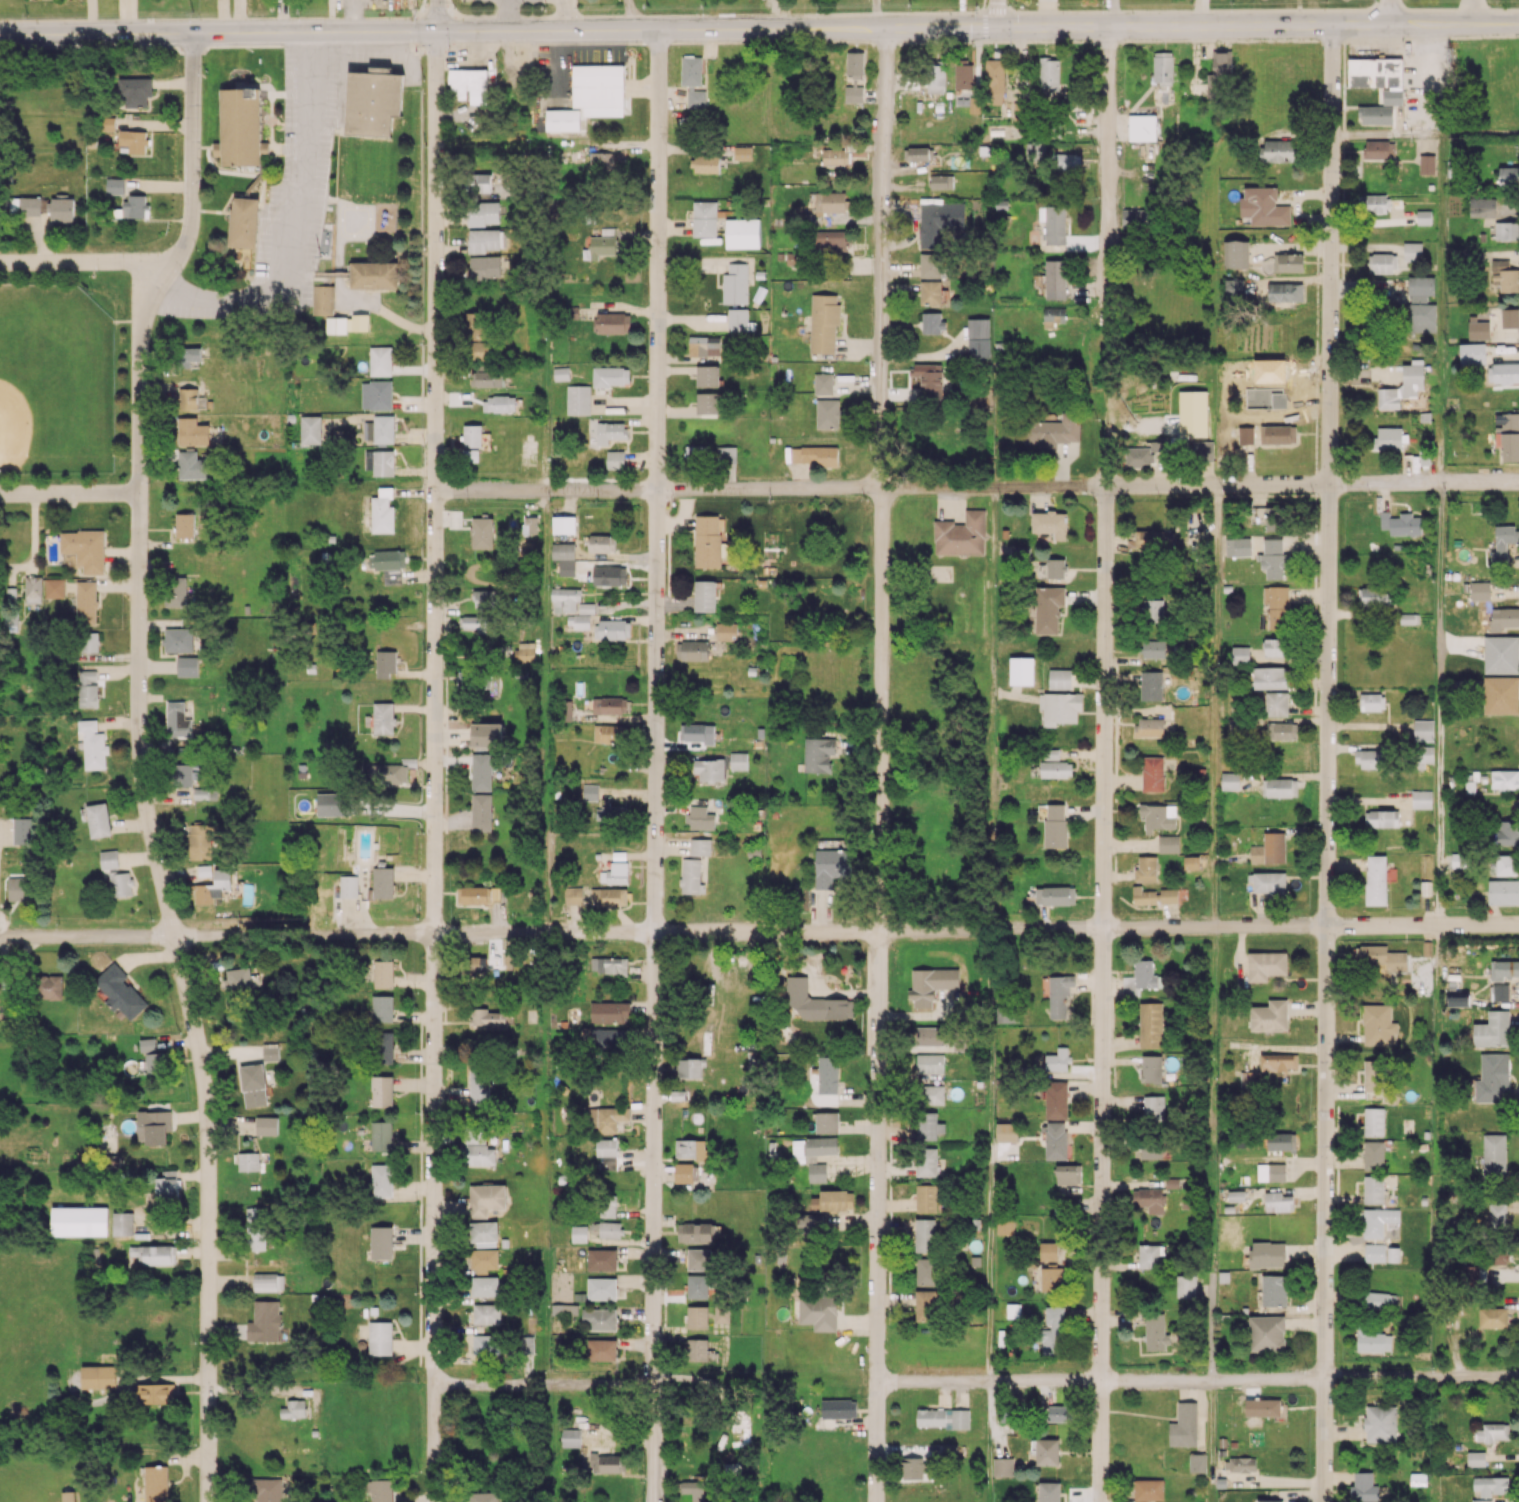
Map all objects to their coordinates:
road: (1389, 11)
road: (996, 13)
road: (876, 14)
road: (437, 15)
traffic signals: (996, 27)
road: (759, 28)
traffic signals: (437, 31)
building: (1163, 66)
building: (691, 70)
building: (1219, 71)
building: (1049, 73)
building: (966, 76)
building: (1377, 76)
building: (854, 77)
building: (936, 78)
road: (1430, 79)
building: (994, 81)
building: (468, 85)
building: (135, 91)
building: (590, 96)
building: (696, 99)
building: (373, 101)
building: (1375, 114)
building: (106, 123)
building: (240, 127)
building: (1142, 127)
road: (1480, 134)
road: (1381, 135)
road: (1436, 135)
building: (132, 141)
building: (1035, 149)
road: (1107, 149)
building: (1378, 149)
building: (1279, 150)
building: (742, 153)
building: (918, 153)
building: (835, 157)
building: (603, 160)
building: (1068, 161)
building: (706, 163)
building: (1426, 164)
building: (1509, 175)
building: (941, 181)
building: (479, 182)
building: (114, 186)
building: (831, 202)
building: (1372, 203)
building: (24, 205)
building: (135, 205)
building: (1490, 205)
building: (1263, 207)
building: (61, 208)
building: (483, 213)
building: (1423, 217)
building: (705, 218)
building: (1135, 218)
road: (297, 221)
building: (244, 222)
building: (939, 222)
building: (1053, 223)
building: (1506, 230)
building: (742, 233)
building: (487, 240)
building: (830, 241)
building: (600, 247)
building: (1412, 251)
building: (1235, 254)
road: (82, 262)
building: (1288, 262)
building: (1382, 263)
building: (930, 265)
building: (484, 267)
building: (374, 275)
building: (1505, 275)
building: (1055, 279)
building: (735, 284)
building: (1234, 287)
building: (930, 292)
building: (1284, 292)
building: (323, 300)
building: (1421, 305)
building: (1053, 316)
building: (1509, 317)
building: (737, 319)
building: (360, 322)
building: (613, 322)
building: (932, 322)
building: (823, 323)
building: (336, 325)
building: (474, 325)
building: (1478, 330)
building: (978, 337)
building: (703, 345)
building: (480, 350)
building: (1472, 353)
building: (189, 355)
building: (380, 360)
building: (561, 373)
building: (1504, 373)
building: (707, 375)
building: (1412, 375)
building: (488, 376)
building: (610, 376)
building: (929, 379)
park: (57, 380)
building: (823, 383)
road: (544, 387)
building: (376, 395)
building: (188, 398)
building: (577, 399)
building: (499, 403)
building: (708, 403)
building: (828, 413)
building: (1193, 413)
building: (310, 429)
building: (380, 429)
building: (1052, 431)
building: (192, 432)
building: (610, 432)
building: (1278, 434)
building: (1243, 435)
building: (472, 436)
building: (1508, 436)
building: (1388, 438)
building: (1201, 450)
building: (697, 453)
building: (726, 454)
building: (1142, 454)
building: (815, 455)
building: (615, 459)
building: (380, 462)
building: (192, 465)
road: (976, 486)
road: (69, 493)
building: (382, 511)
building: (1272, 518)
building: (1049, 523)
building: (563, 524)
building: (1401, 524)
building: (184, 525)
building: (529, 527)
road: (1440, 529)
building: (482, 533)
building: (961, 534)
building: (1147, 540)
building: (708, 541)
building: (1503, 542)
building: (602, 543)
building: (1238, 546)
building: (84, 549)
building: (1012, 550)
building: (564, 557)
building: (1273, 558)
building: (388, 564)
building: (1055, 568)
building: (609, 575)
building: (54, 588)
building: (33, 589)
building: (1480, 590)
building: (177, 591)
building: (11, 594)
building: (705, 596)
building: (486, 597)
building: (1375, 597)
building: (564, 599)
building: (85, 602)
building: (1277, 606)
building: (586, 608)
building: (1048, 609)
building: (1152, 610)
building: (1409, 618)
building: (1503, 618)
building: (578, 621)
building: (474, 622)
building: (612, 629)
building: (726, 631)
building: (178, 639)
building: (89, 642)
building: (1275, 647)
building: (1153, 649)
building: (692, 650)
building: (525, 652)
building: (1501, 654)
building: (1240, 655)
building: (386, 663)
building: (186, 666)
building: (1021, 670)
building: (1270, 677)
building: (1059, 679)
building: (1151, 685)
building: (88, 688)
building: (1501, 695)
building: (1371, 701)
building: (1276, 704)
building: (609, 705)
road: (1214, 705)
road: (656, 706)
road: (884, 706)
building: (1059, 707)
road: (992, 708)
road: (544, 711)
building: (383, 718)
building: (177, 720)
building: (1149, 727)
building: (1423, 730)
building: (1281, 731)
building: (608, 733)
building: (698, 733)
building: (487, 734)
building: (92, 745)
building: (1051, 753)
building: (818, 754)
building: (1425, 754)
building: (1369, 759)
building: (739, 761)
road: (1327, 762)
road: (140, 764)
road: (434, 766)
building: (1056, 769)
building: (710, 770)
building: (481, 772)
building: (1153, 773)
building: (388, 774)
building: (183, 775)
building: (1504, 779)
building: (1229, 781)
building: (1281, 787)
building: (590, 792)
building: (205, 793)
building: (1421, 799)
building: (332, 804)
building: (481, 812)
building: (609, 812)
building: (1157, 816)
building: (699, 818)
building: (1381, 818)
building: (98, 820)
building: (1055, 825)
building: (21, 830)
building: (1507, 833)
building: (200, 841)
building: (1168, 843)
building: (700, 846)
building: (1269, 849)
building: (108, 859)
building: (1191, 862)
building: (1507, 865)
building: (831, 866)
building: (1146, 869)
building: (205, 870)
building: (614, 873)
building: (691, 876)
building: (1375, 880)
building: (383, 882)
building: (1269, 882)
building: (120, 883)
building: (347, 886)
building: (213, 887)
building: (18, 889)
building: (1503, 892)
building: (474, 895)
building: (1055, 895)
building: (1169, 895)
building: (608, 896)
building: (1144, 896)
road: (976, 929)
road: (217, 935)
road: (1102, 954)
building: (1382, 957)
building: (477, 965)
building: (609, 965)
building: (1266, 965)
building: (1504, 969)
building: (383, 974)
building: (1139, 978)
building: (237, 979)
building: (931, 984)
building: (49, 987)
building: (120, 992)
building: (1501, 992)
building: (1060, 996)
building: (1457, 1000)
building: (815, 1002)
building: (381, 1008)
building: (609, 1012)
building: (1007, 1014)
building: (1269, 1016)
building: (486, 1019)
building: (1150, 1025)
building: (1378, 1025)
building: (1493, 1029)
building: (929, 1035)
building: (609, 1038)
building: (149, 1044)
building: (383, 1047)
building: (270, 1052)
building: (1057, 1060)
building: (1278, 1061)
building: (154, 1063)
building: (929, 1063)
building: (690, 1067)
building: (1151, 1069)
building: (827, 1075)
building: (1370, 1076)
building: (1492, 1078)
building: (479, 1083)
building: (253, 1085)
building: (381, 1091)
building: (932, 1094)
building: (1056, 1099)
building: (1153, 1107)
building: (605, 1118)
building: (1373, 1121)
building: (827, 1122)
building: (928, 1125)
building: (154, 1126)
building: (267, 1126)
building: (474, 1131)
building: (1006, 1132)
building: (381, 1136)
building: (1055, 1140)
building: (1281, 1141)
building: (1150, 1147)
building: (690, 1148)
building: (812, 1149)
road: (1437, 1150)
road: (1213, 1152)
building: (607, 1153)
building: (480, 1155)
road: (989, 1155)
building: (1373, 1155)
building: (1494, 1156)
building: (249, 1161)
building: (926, 1162)
building: (683, 1172)
building: (817, 1172)
building: (1270, 1172)
building: (1068, 1174)
building: (381, 1180)
building: (1174, 1182)
building: (166, 1186)
building: (1373, 1189)
building: (926, 1198)
building: (486, 1199)
building: (1149, 1199)
building: (832, 1201)
building: (1279, 1201)
building: (607, 1206)
building: (1497, 1214)
building: (1377, 1221)
building: (810, 1223)
building: (1005, 1225)
building: (256, 1228)
building: (606, 1229)
building: (695, 1232)
building: (483, 1233)
building: (578, 1233)
building: (925, 1235)
building: (380, 1242)
building: (1048, 1251)
building: (1374, 1252)
building: (1267, 1254)
building: (157, 1255)
building: (1148, 1256)
building: (1497, 1256)
building: (484, 1259)
building: (601, 1259)
building: (699, 1259)
building: (926, 1271)
building: (1473, 1274)
building: (1052, 1278)
building: (268, 1282)
building: (484, 1286)
building: (697, 1286)
building: (1186, 1286)
building: (601, 1288)
building: (1274, 1290)
building: (1379, 1300)
building: (925, 1305)
building: (564, 1309)
building: (818, 1312)
building: (486, 1313)
building: (721, 1313)
building: (697, 1316)
building: (1492, 1317)
building: (598, 1319)
building: (266, 1322)
building: (1052, 1331)
building: (1155, 1332)
building: (1266, 1333)
building: (380, 1338)
building: (1374, 1341)
building: (527, 1344)
building: (485, 1346)
building: (601, 1349)
building: (699, 1350)
building: (98, 1377)
road: (1197, 1378)
road: (601, 1384)
building: (158, 1393)
building: (1262, 1407)
building: (838, 1408)
building: (294, 1409)
building: (1059, 1413)
building: (942, 1418)
building: (1380, 1423)
building: (1184, 1425)
building: (1493, 1432)
building: (570, 1437)
road: (653, 1443)
road: (875, 1443)
building: (949, 1450)
building: (1046, 1451)
building: (1475, 1459)
building: (607, 1462)
building: (1197, 1462)
building: (1239, 1464)
building: (1002, 1466)
building: (911, 1468)
building: (1418, 1478)
building: (156, 1483)
building: (1491, 1485)
building: (1367, 1488)
building: (694, 1489)
building: (1148, 1489)
building: (268, 1490)
building: (379, 1490)
building: (1049, 1492)
building: (68, 1496)
building: (484, 1497)
building: (1269, 1500)
building: (1481, 1500)

